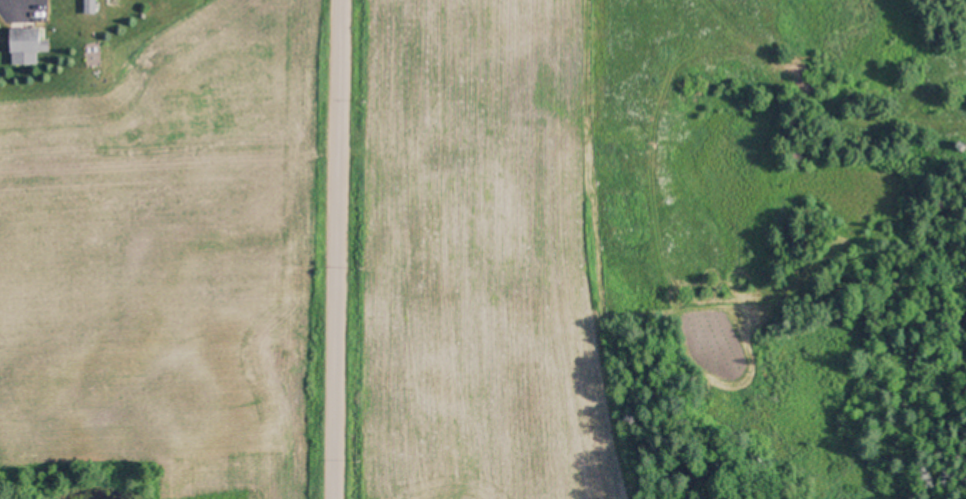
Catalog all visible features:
building: (89, 6)
building: (25, 40)
road: (338, 249)

